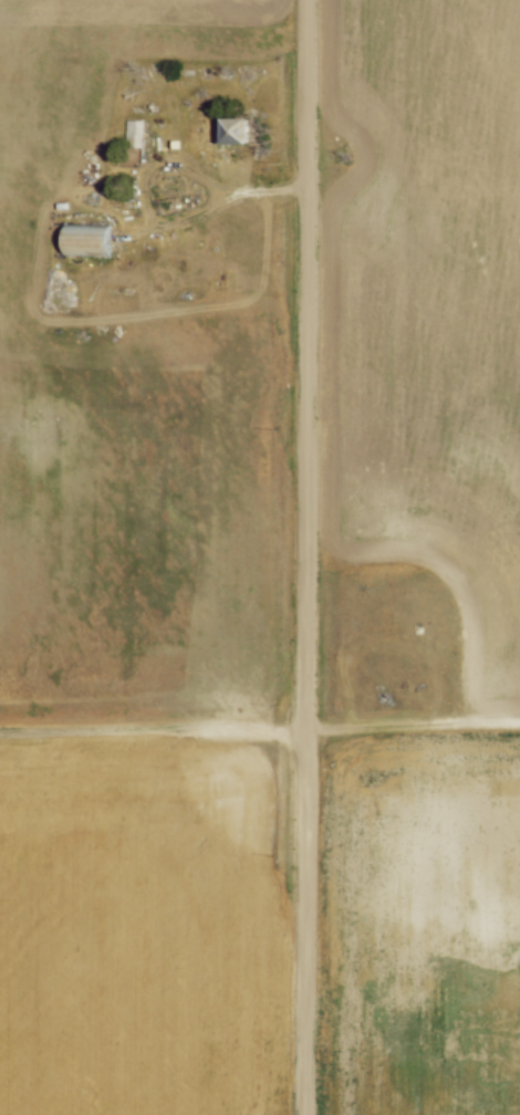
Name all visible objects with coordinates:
building: (238, 118)
building: (134, 125)
building: (232, 129)
road: (156, 155)
road: (209, 201)
building: (90, 233)
crop: (428, 549)
road: (305, 557)
crop: (133, 627)
road: (412, 717)

